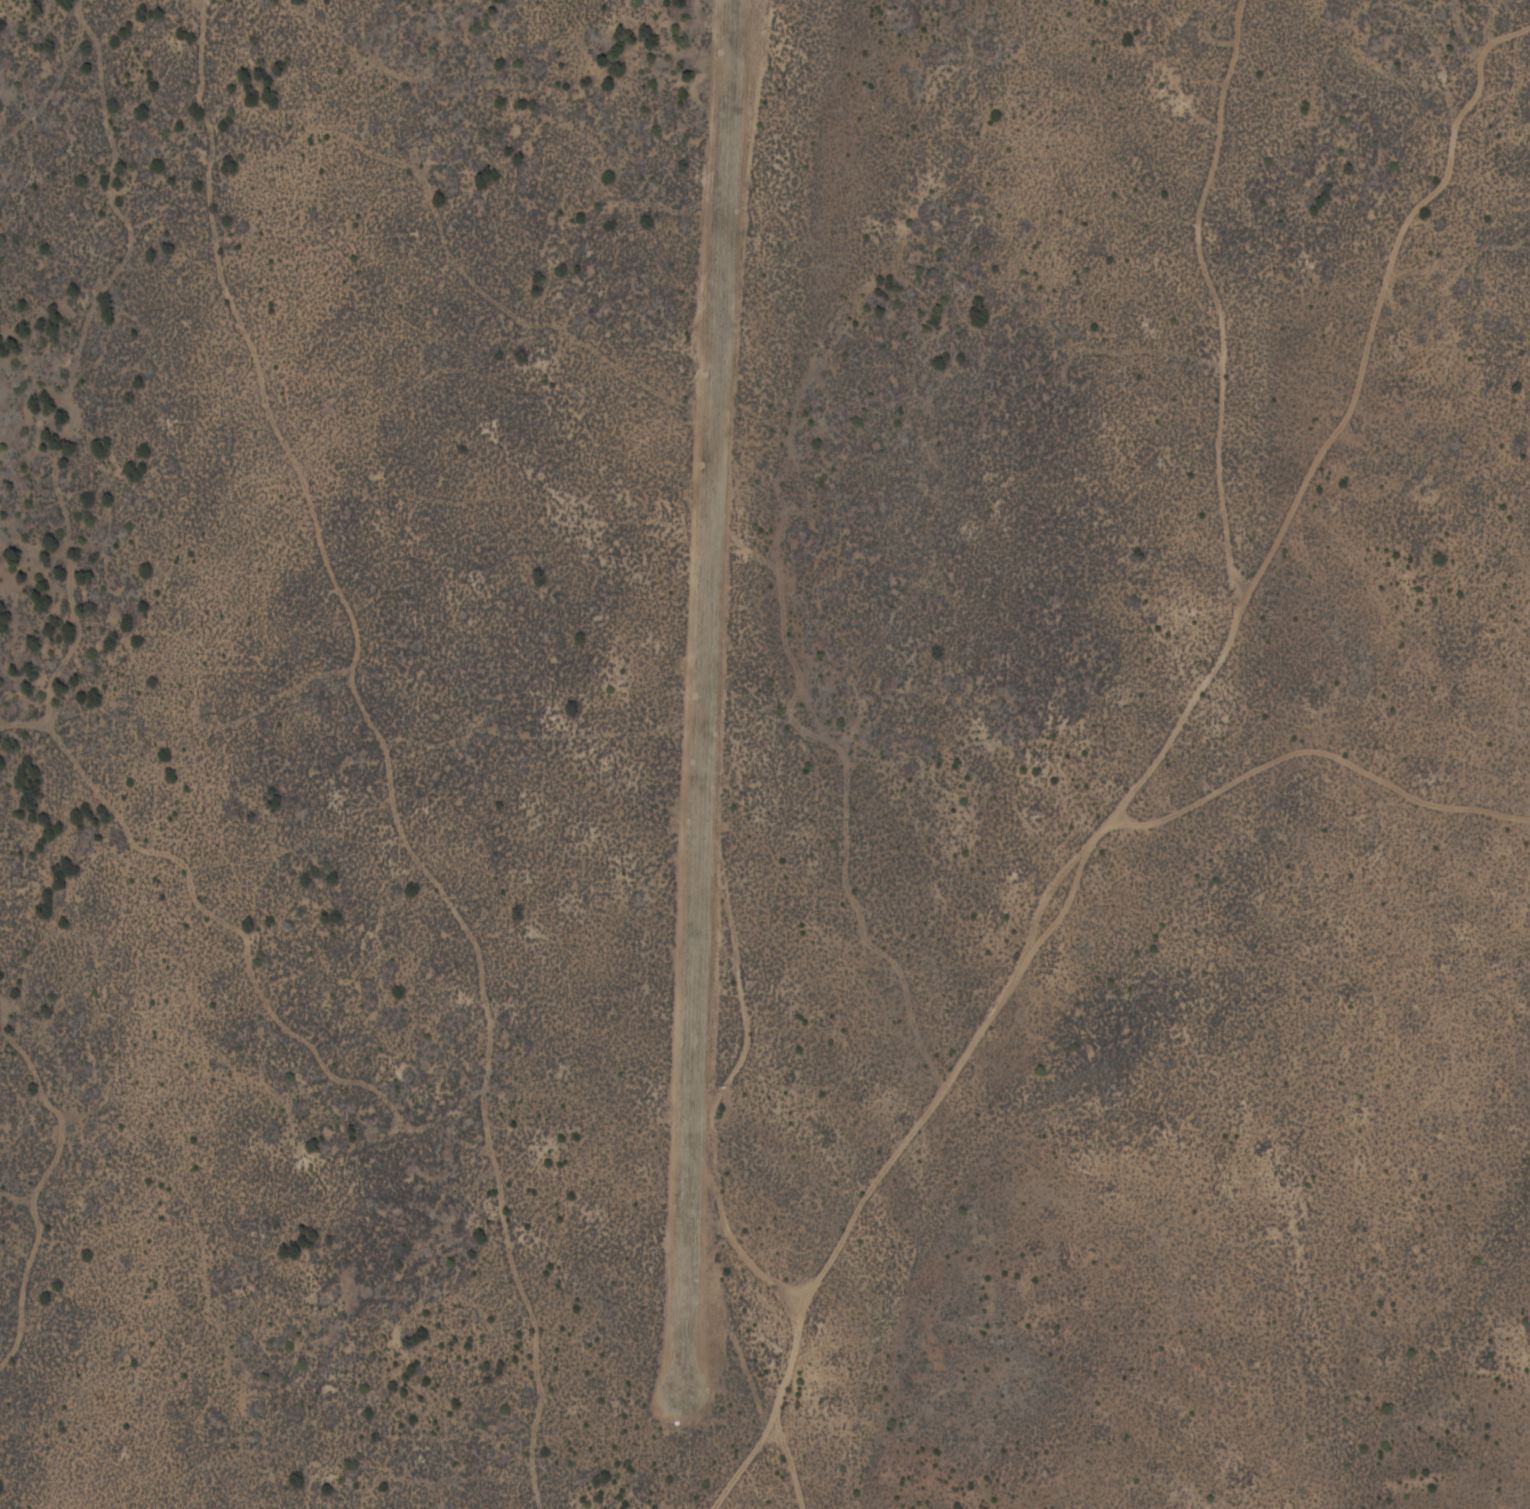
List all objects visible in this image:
airport runway: (706, 690)
road: (1201, 716)
road: (746, 763)
road: (769, 1469)

